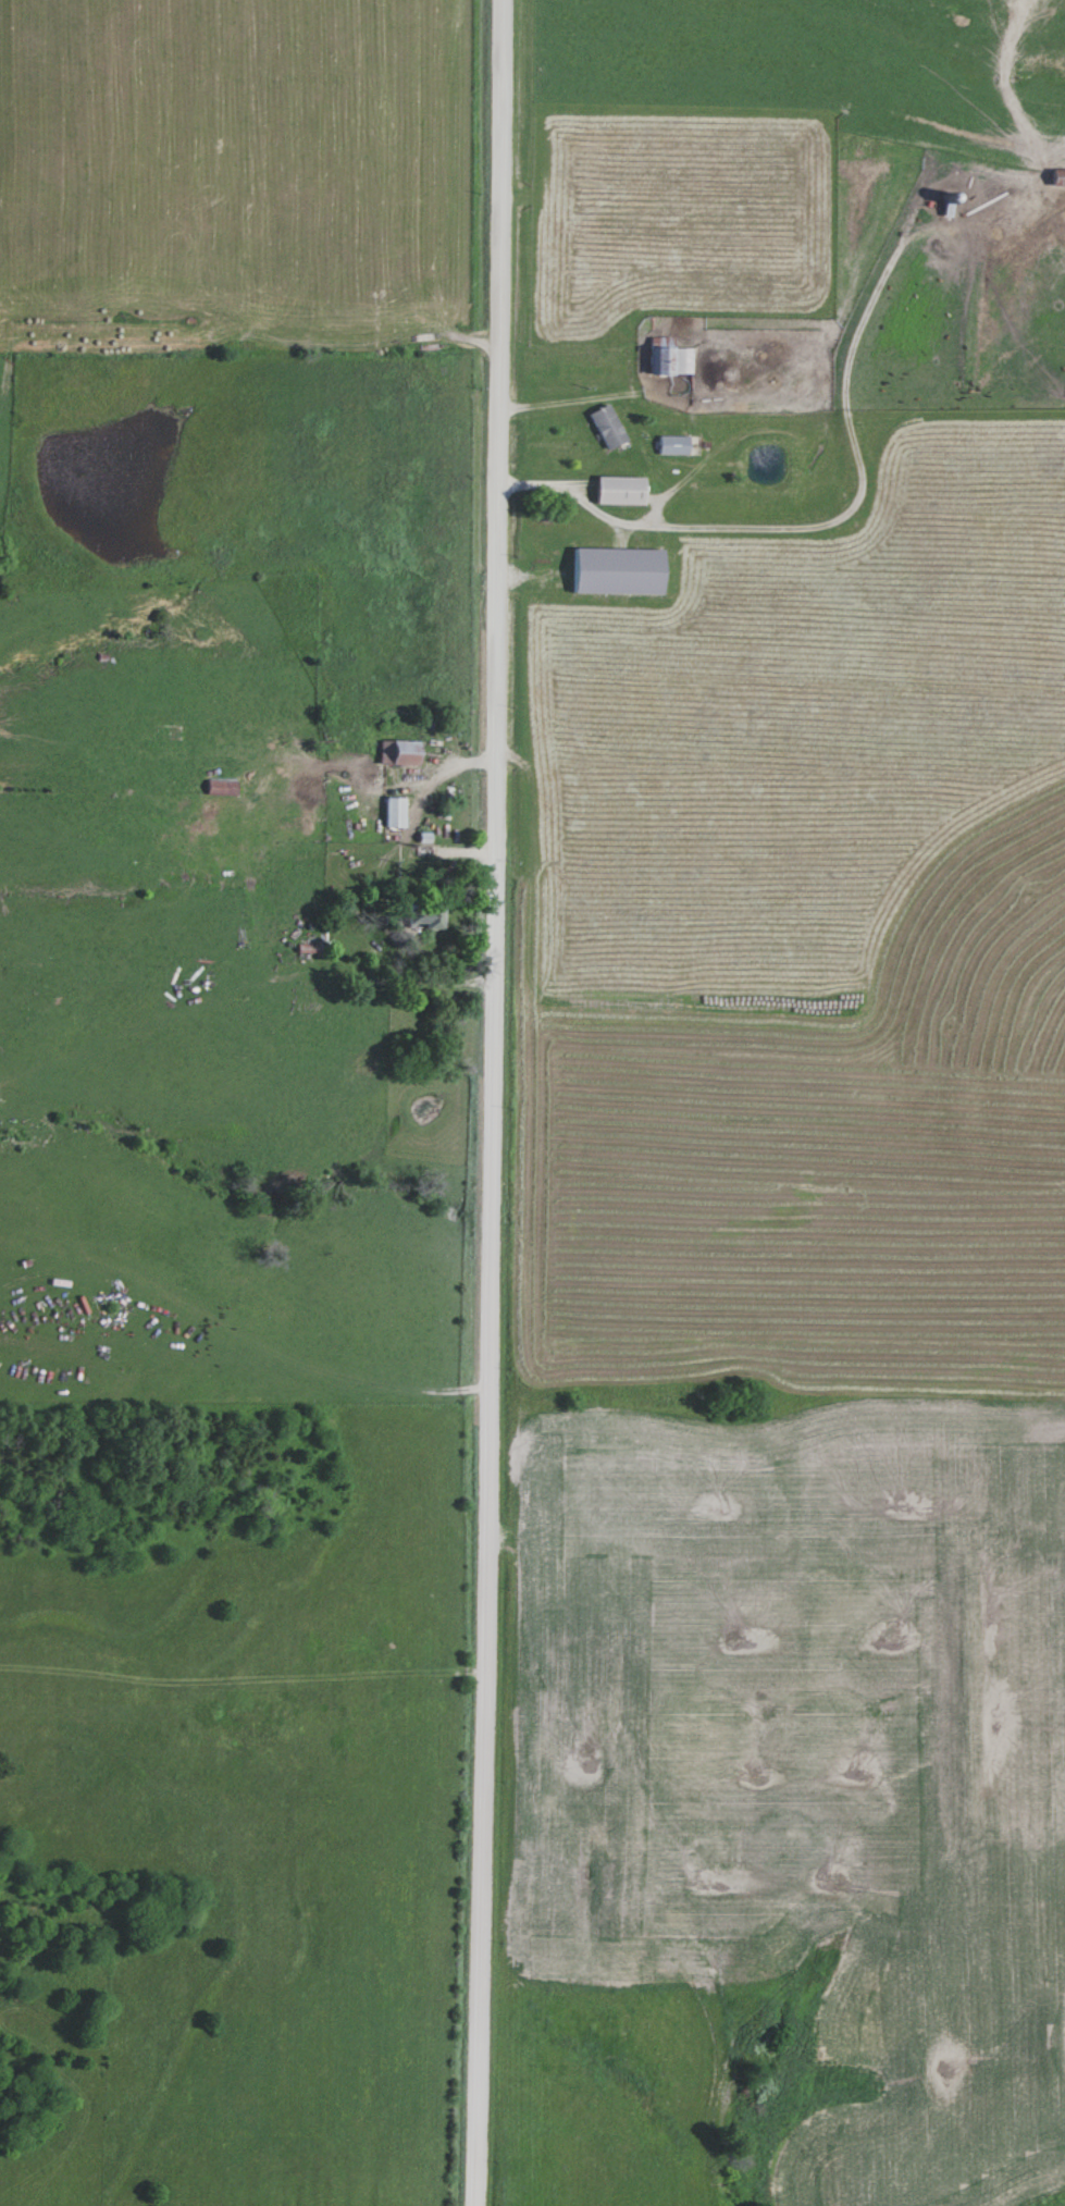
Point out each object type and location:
road: (485, 1102)

